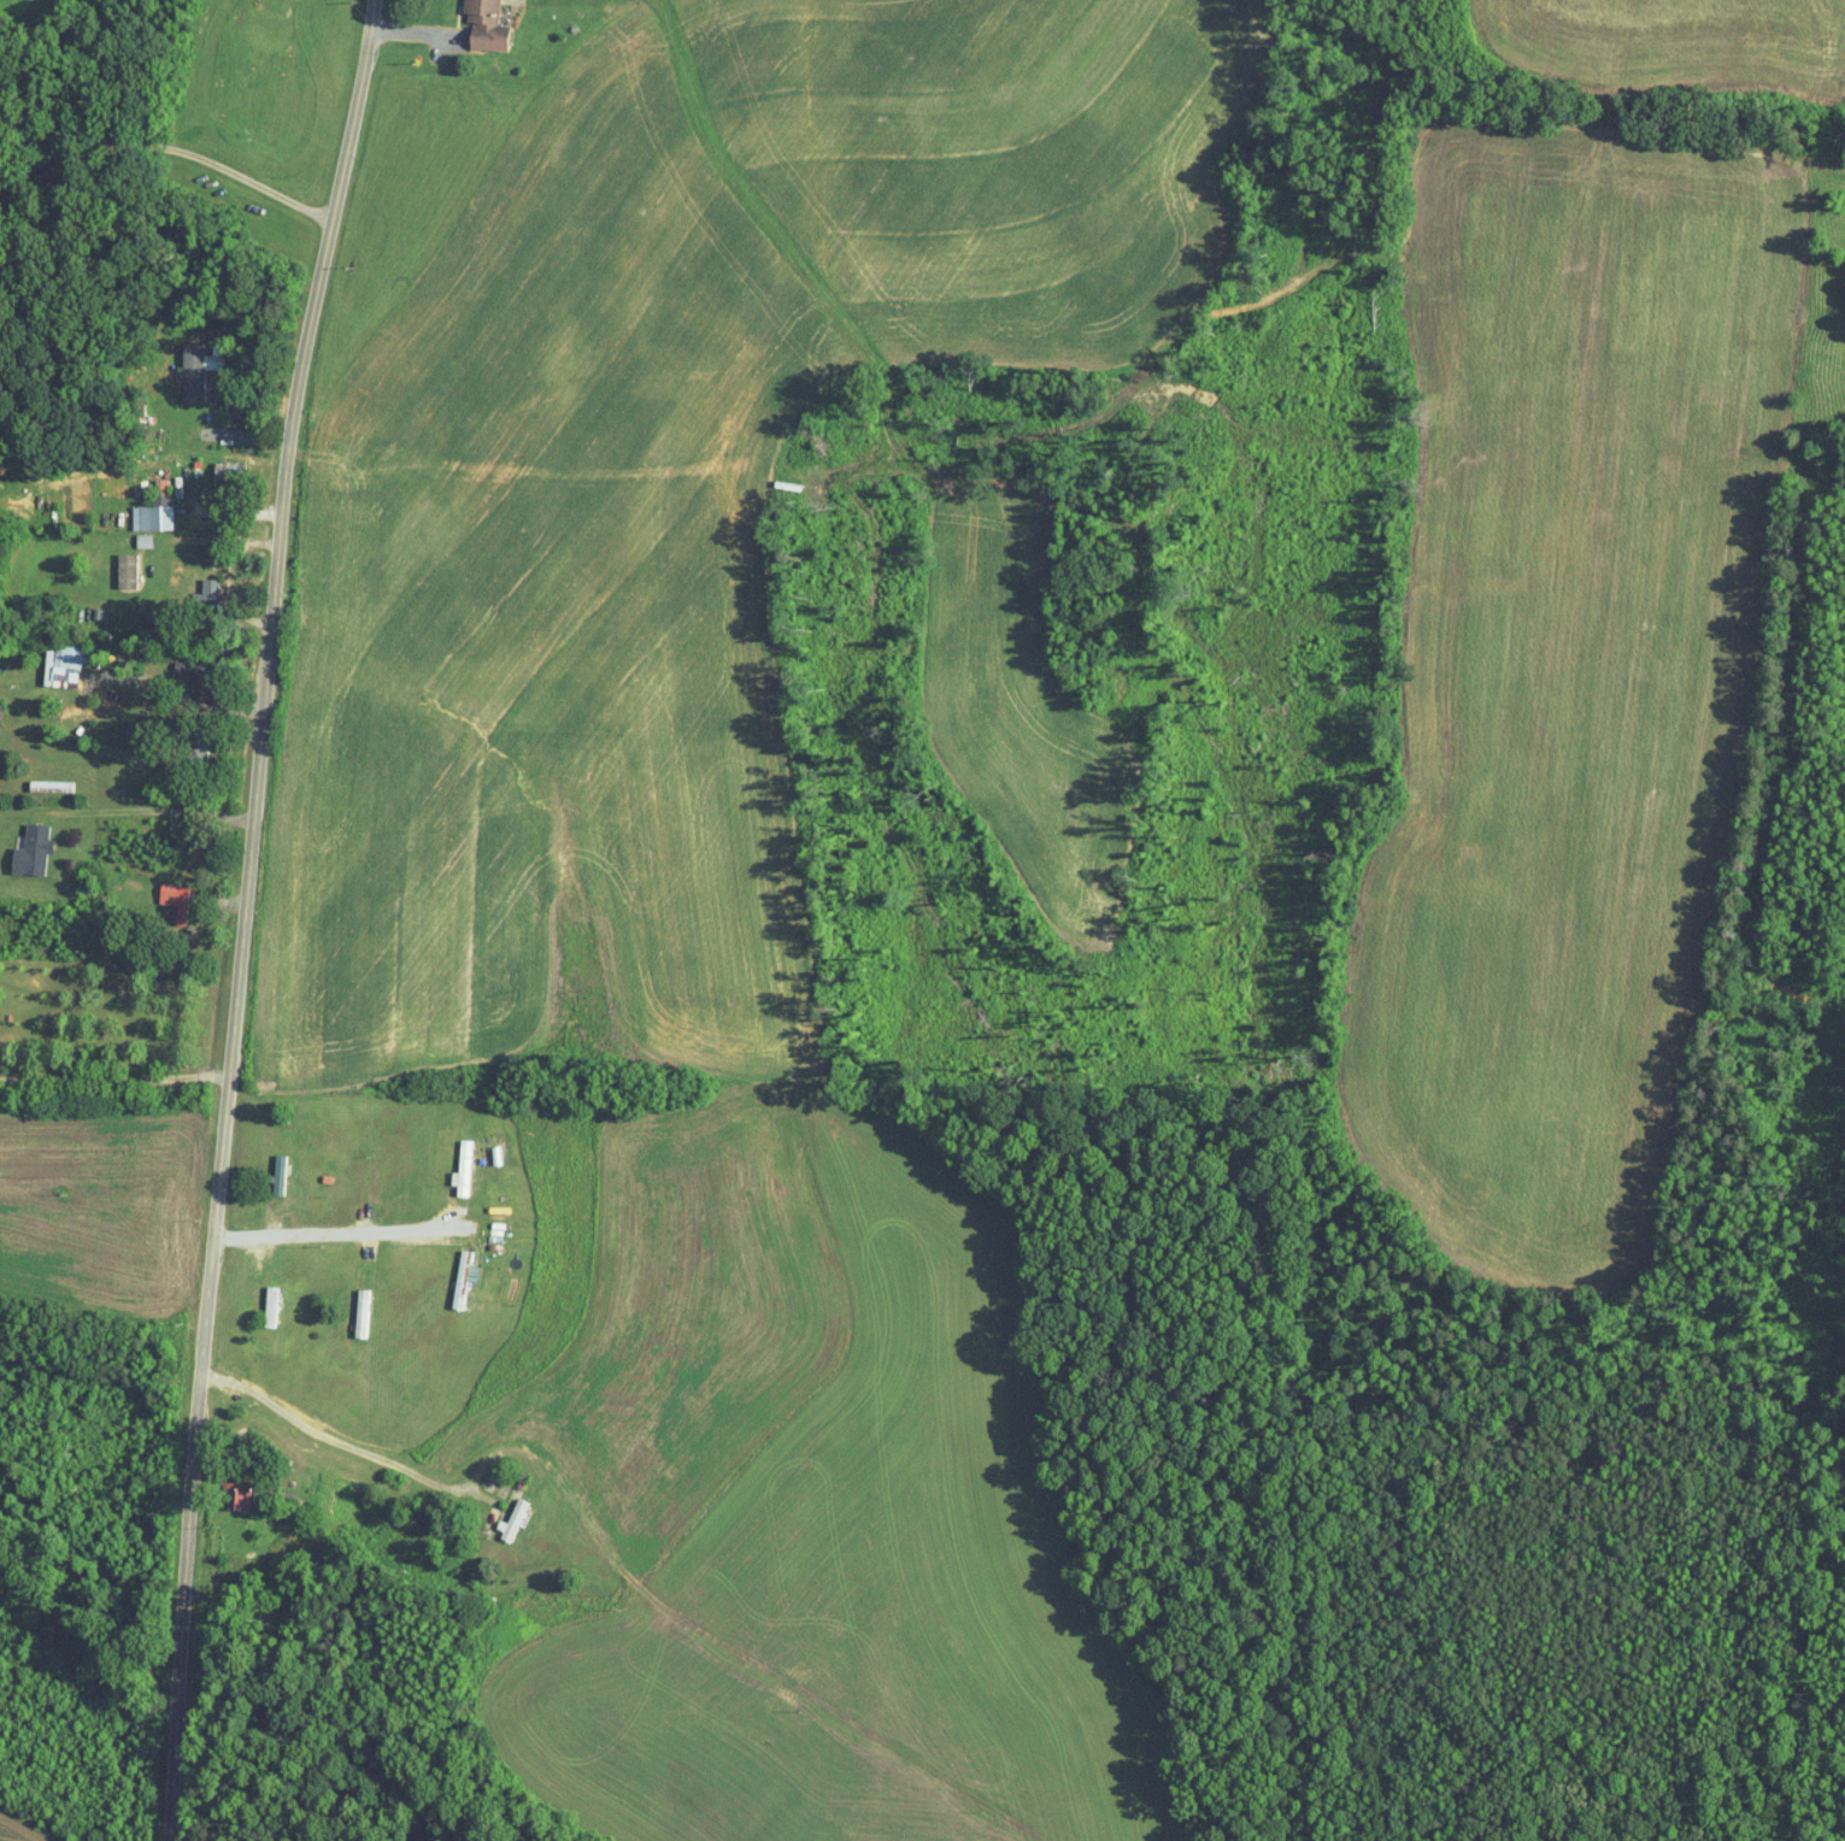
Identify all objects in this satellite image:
building: (489, 23)
road: (164, 146)
building: (198, 370)
building: (227, 471)
building: (154, 514)
road: (219, 536)
building: (143, 541)
building: (128, 570)
road: (225, 589)
building: (70, 657)
building: (51, 786)
road: (160, 811)
building: (34, 851)
building: (176, 899)
road: (240, 917)
road: (113, 1078)
building: (463, 1167)
building: (280, 1174)
road: (353, 1231)
building: (464, 1277)
building: (270, 1305)
road: (312, 1429)
building: (239, 1495)
building: (511, 1521)

